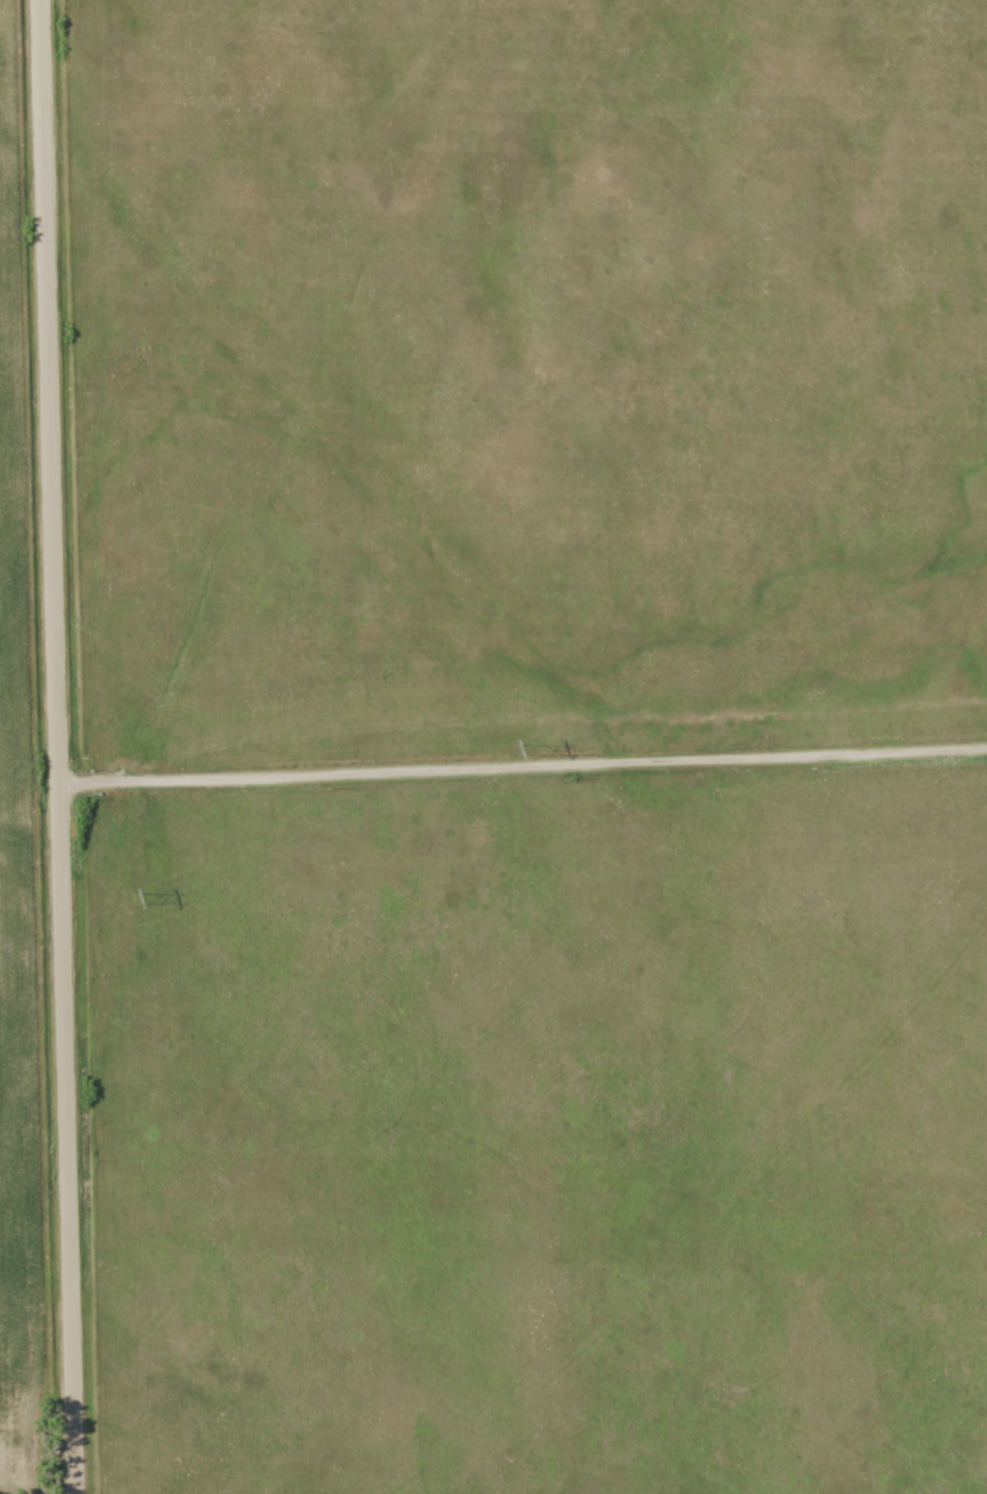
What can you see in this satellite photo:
road: (58, 747)
power tower: (512, 751)
road: (523, 768)
power tower: (135, 900)

